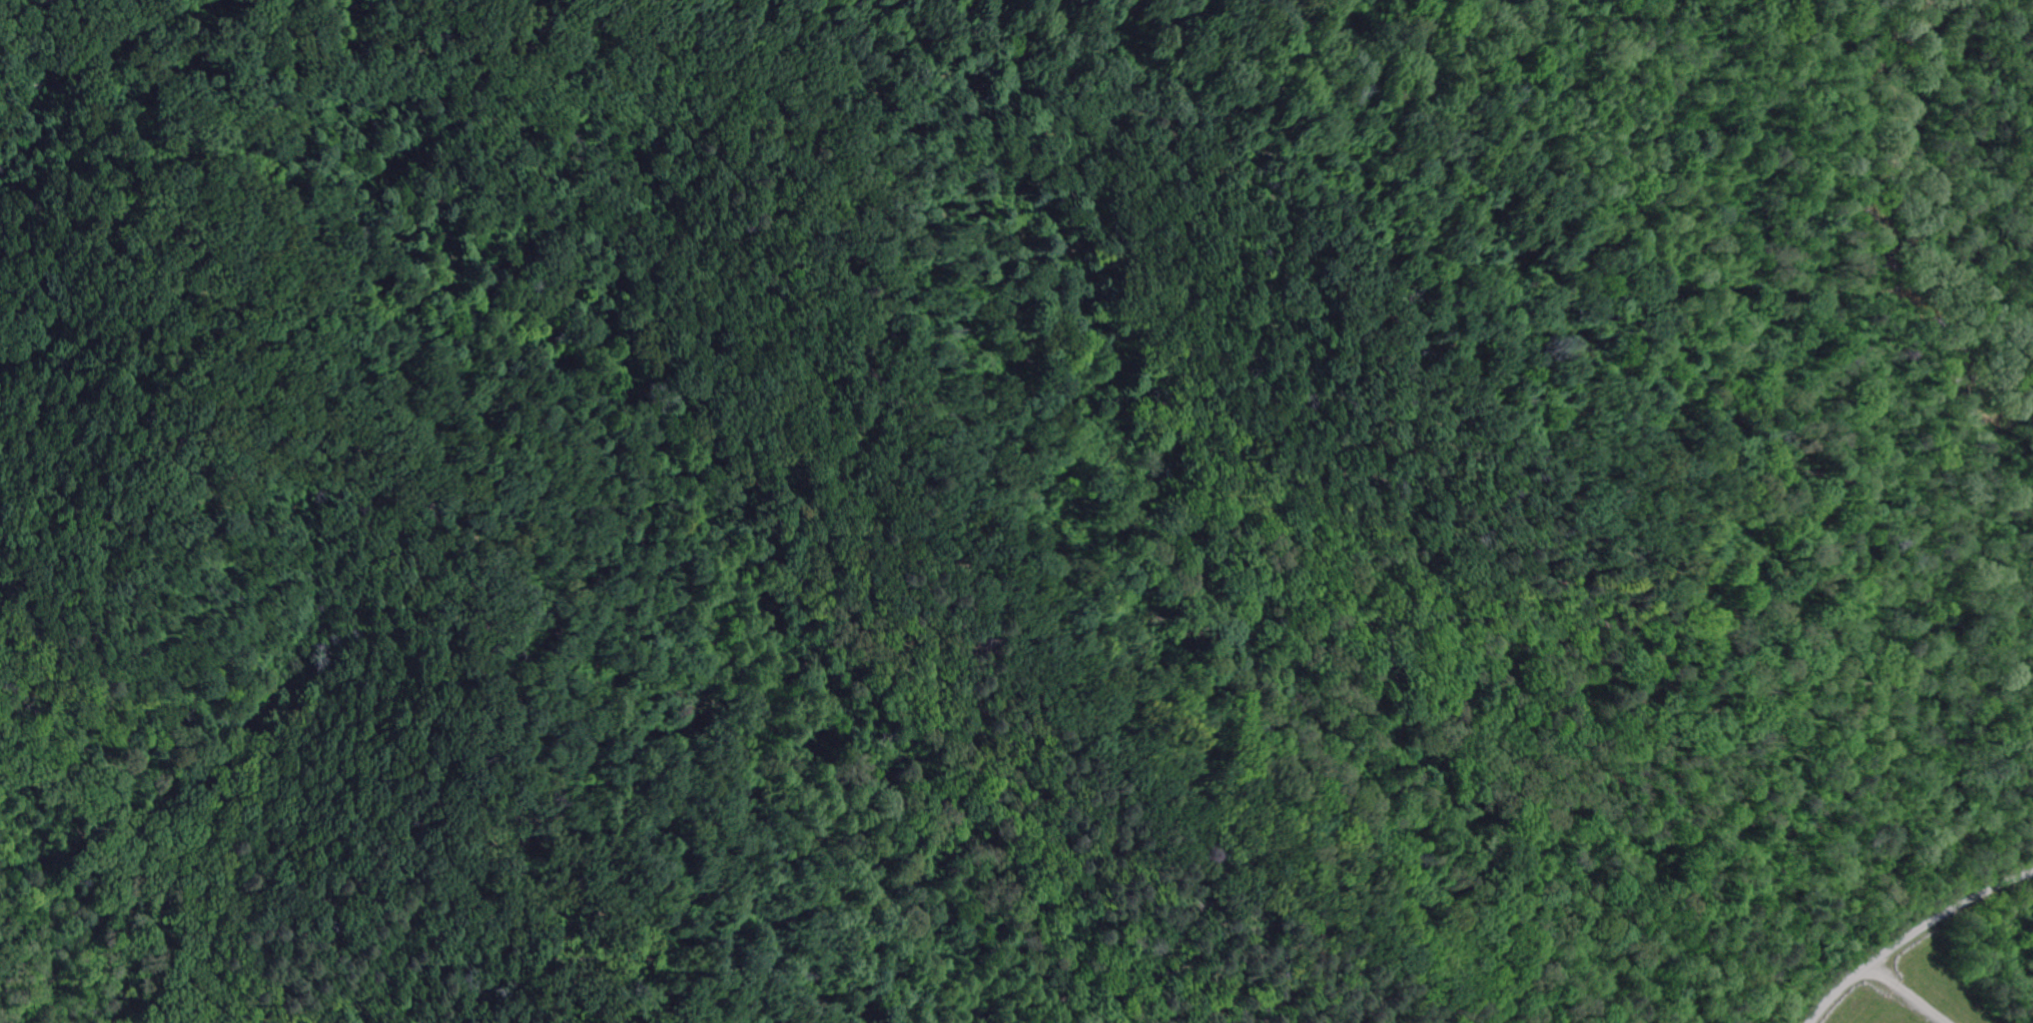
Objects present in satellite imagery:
road: (1908, 932)
road: (1906, 991)

